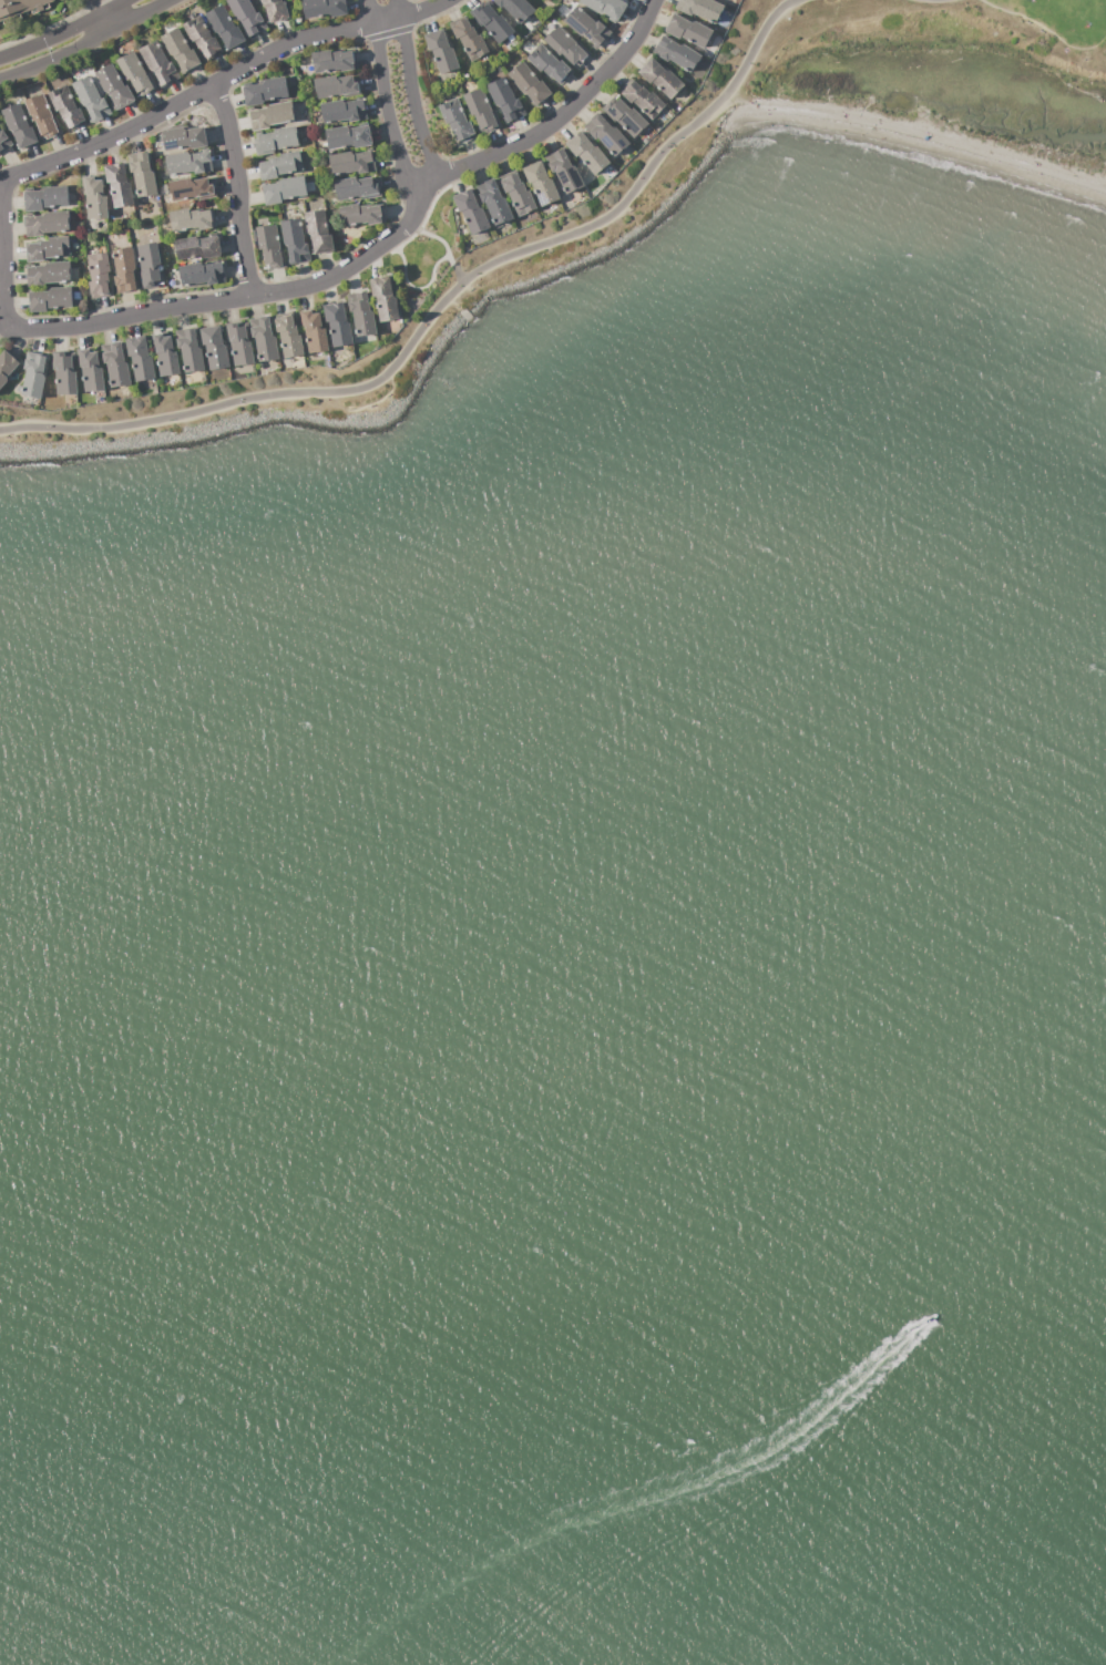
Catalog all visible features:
road: (943, 0)
building: (21, 8)
building: (324, 8)
building: (518, 8)
building: (605, 8)
building: (700, 8)
building: (276, 9)
road: (419, 9)
road: (105, 16)
building: (247, 16)
building: (493, 23)
building: (587, 27)
building: (225, 28)
building: (689, 30)
road: (62, 33)
road: (1043, 33)
building: (469, 37)
building: (203, 39)
road: (88, 44)
building: (566, 45)
building: (181, 50)
building: (441, 50)
building: (676, 53)
building: (334, 61)
building: (158, 62)
building: (481, 62)
building: (551, 65)
building: (135, 73)
building: (464, 76)
building: (660, 79)
building: (529, 83)
building: (115, 86)
building: (336, 86)
road: (408, 90)
building: (266, 91)
building: (91, 99)
building: (505, 100)
building: (644, 100)
road: (382, 101)
building: (66, 106)
building: (675, 106)
building: (342, 111)
road: (565, 111)
building: (482, 112)
building: (272, 115)
building: (42, 116)
building: (625, 116)
building: (457, 121)
building: (20, 125)
building: (607, 133)
building: (348, 137)
building: (184, 138)
building: (3, 141)
building: (276, 141)
building: (588, 152)
building: (352, 162)
building: (187, 163)
building: (279, 165)
building: (580, 167)
building: (564, 169)
road: (682, 173)
building: (143, 174)
building: (542, 183)
building: (556, 183)
building: (119, 185)
building: (309, 186)
road: (235, 187)
building: (356, 187)
building: (163, 188)
building: (192, 189)
building: (284, 189)
building: (519, 193)
building: (44, 198)
building: (95, 199)
building: (157, 199)
building: (494, 202)
park: (651, 202)
building: (157, 205)
building: (471, 212)
building: (160, 213)
building: (360, 215)
building: (192, 219)
building: (45, 223)
building: (462, 229)
building: (319, 232)
building: (295, 239)
building: (196, 247)
building: (272, 247)
building: (49, 248)
building: (100, 249)
road: (444, 250)
building: (149, 264)
building: (124, 269)
building: (52, 273)
building: (99, 274)
building: (202, 274)
road: (2, 284)
road: (412, 289)
building: (51, 298)
building: (386, 299)
road: (442, 309)
road: (461, 309)
building: (362, 315)
building: (338, 326)
building: (315, 333)
building: (289, 338)
building: (265, 339)
building: (240, 345)
building: (215, 347)
building: (190, 350)
building: (165, 356)
building: (141, 359)
building: (338, 359)
building: (318, 362)
building: (115, 364)
building: (7, 366)
building: (91, 370)
building: (65, 372)
building: (34, 376)
road: (370, 405)

